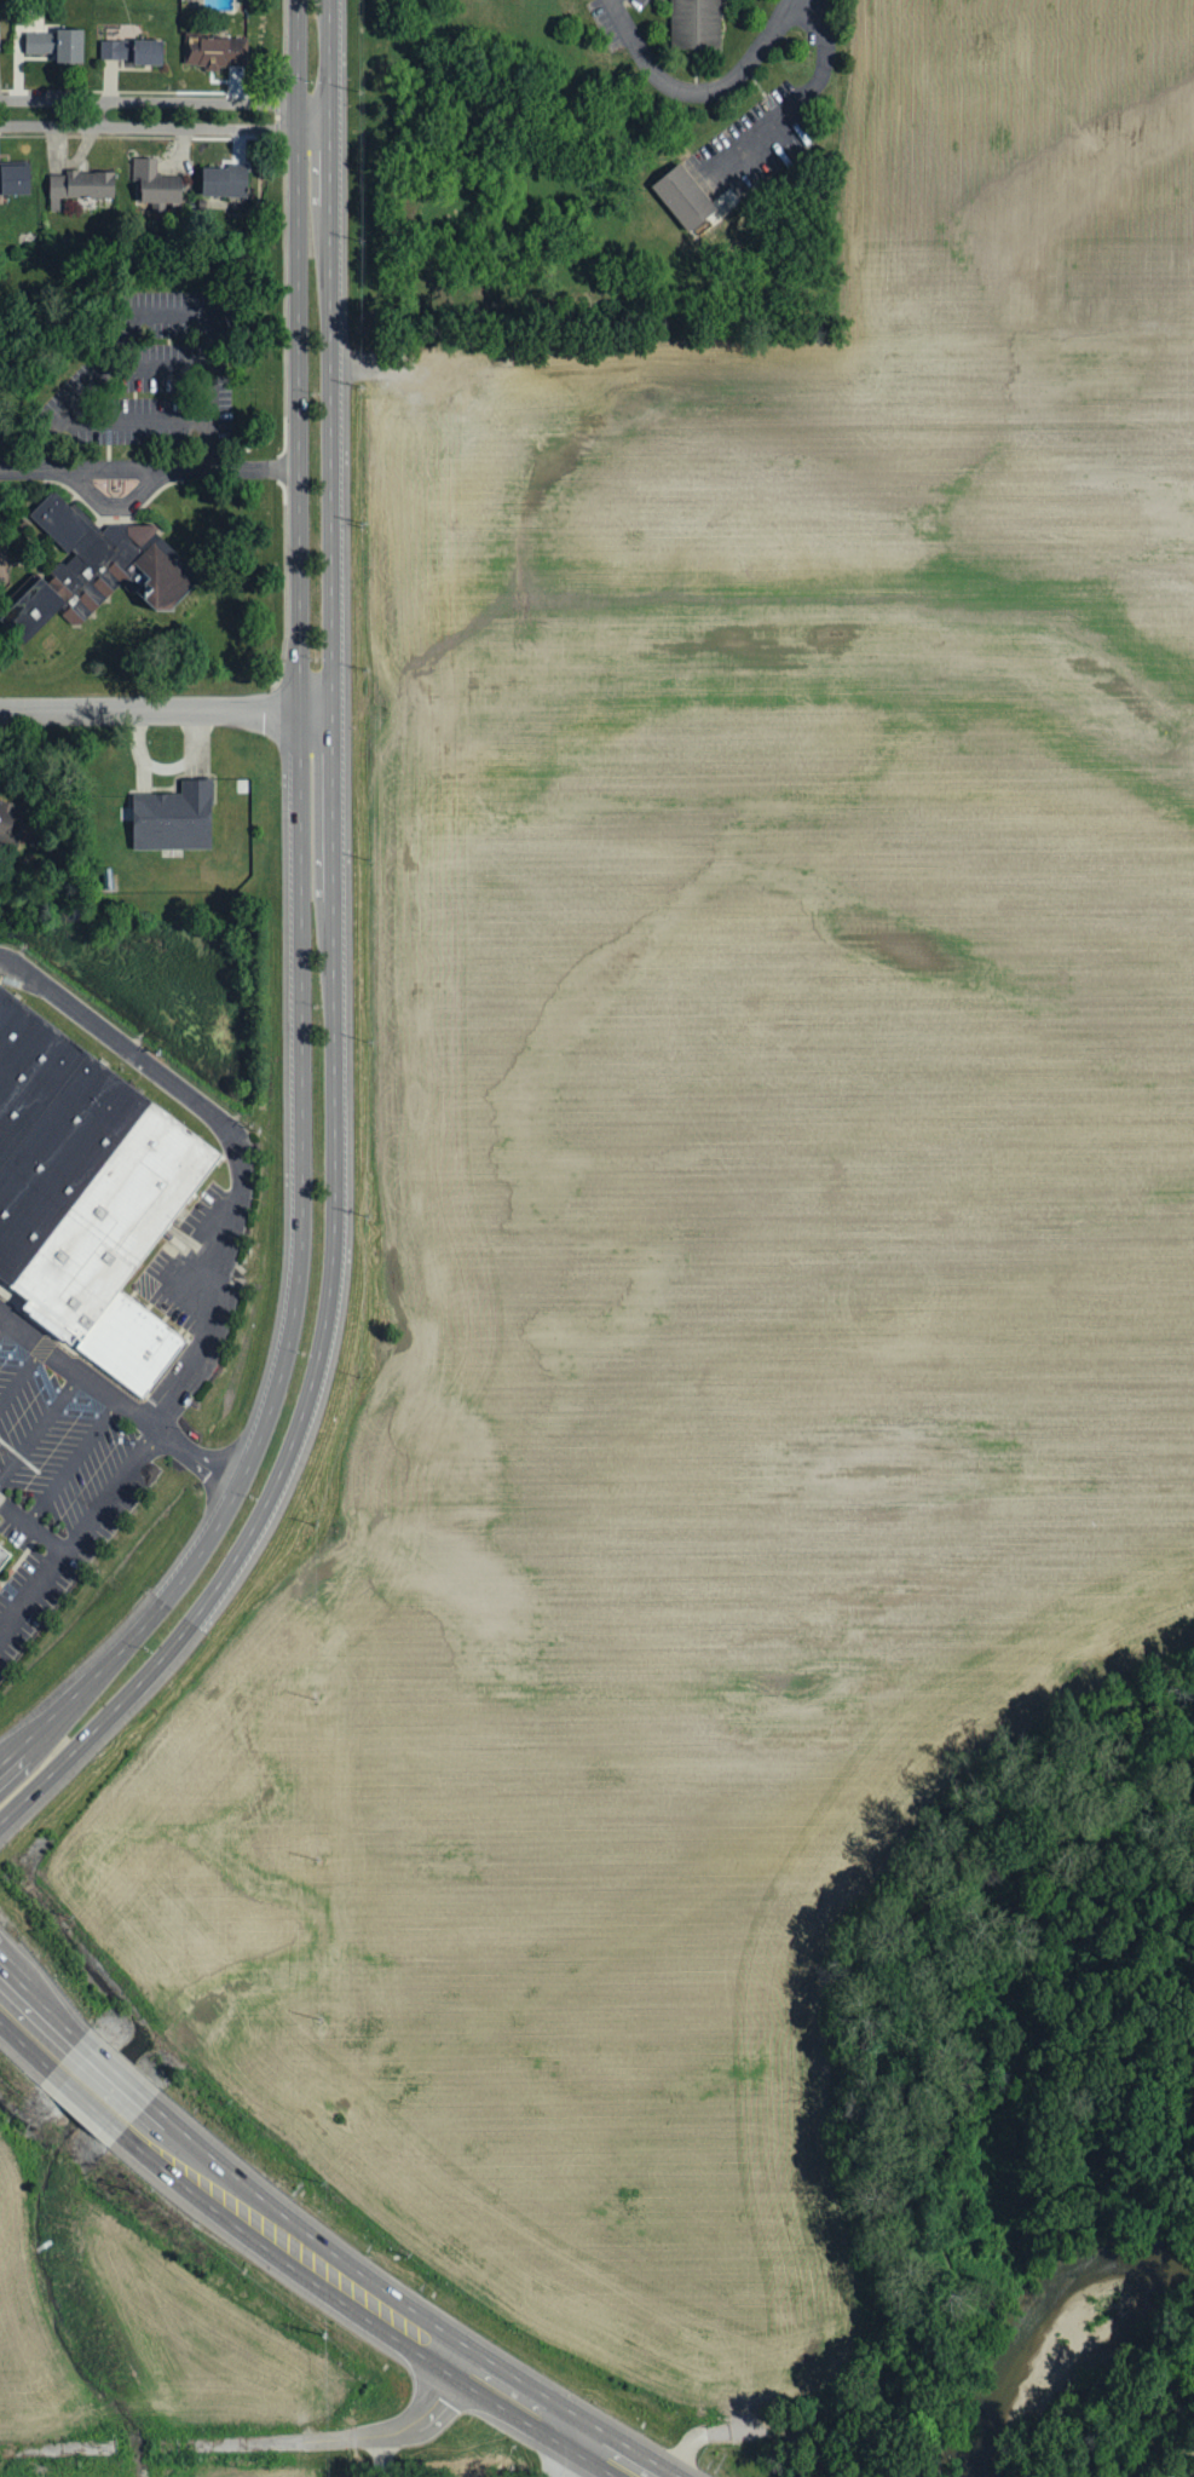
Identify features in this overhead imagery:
building: (694, 22)
building: (56, 45)
building: (132, 51)
building: (214, 52)
road: (698, 93)
road: (795, 98)
road: (92, 115)
road: (312, 116)
building: (13, 179)
building: (155, 184)
building: (224, 185)
building: (79, 186)
building: (681, 192)
road: (313, 235)
road: (150, 312)
road: (138, 420)
road: (156, 471)
building: (96, 566)
road: (157, 712)
building: (173, 818)
building: (10, 824)
road: (317, 983)
road: (232, 1140)
building: (87, 1192)
road: (4, 1321)
road: (22, 1373)
road: (126, 1401)
road: (40, 1424)
road: (73, 1459)
parking lot: (56, 1480)
road: (33, 1526)
road: (80, 1532)
building: (4, 1555)
road: (143, 1652)
road: (31, 2023)
road: (98, 2085)
road: (373, 2309)
river: (1036, 2322)
road: (242, 2441)
road: (377, 2455)
road: (565, 2459)

